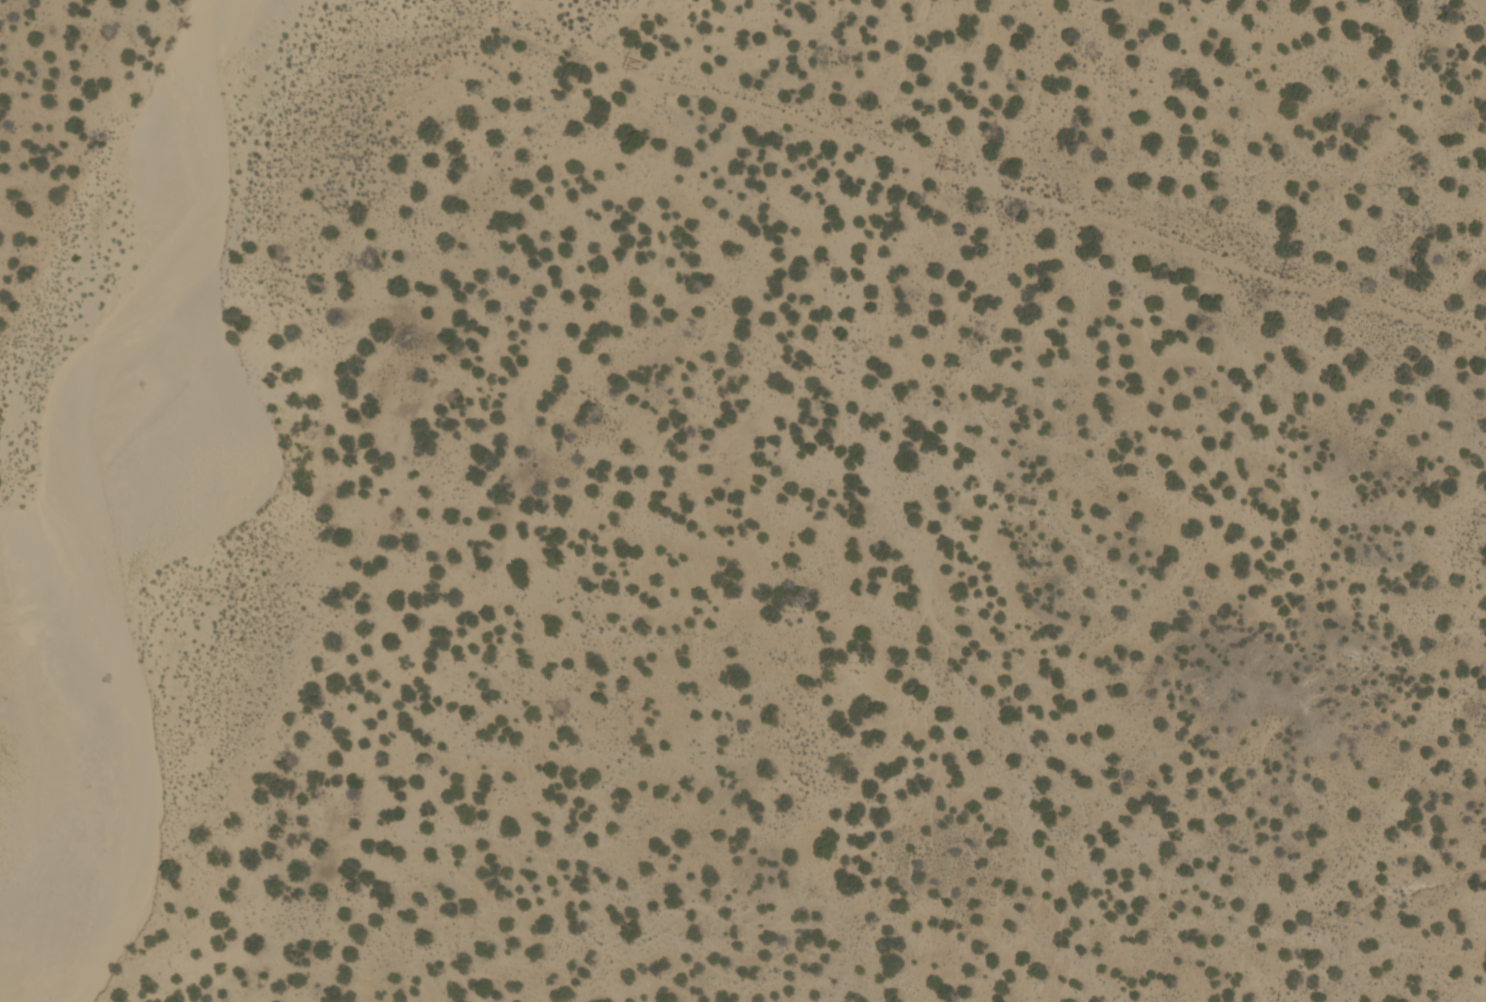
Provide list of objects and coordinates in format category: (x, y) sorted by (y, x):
power tower: (636, 65)
power tower: (951, 166)
power tower: (1294, 276)

